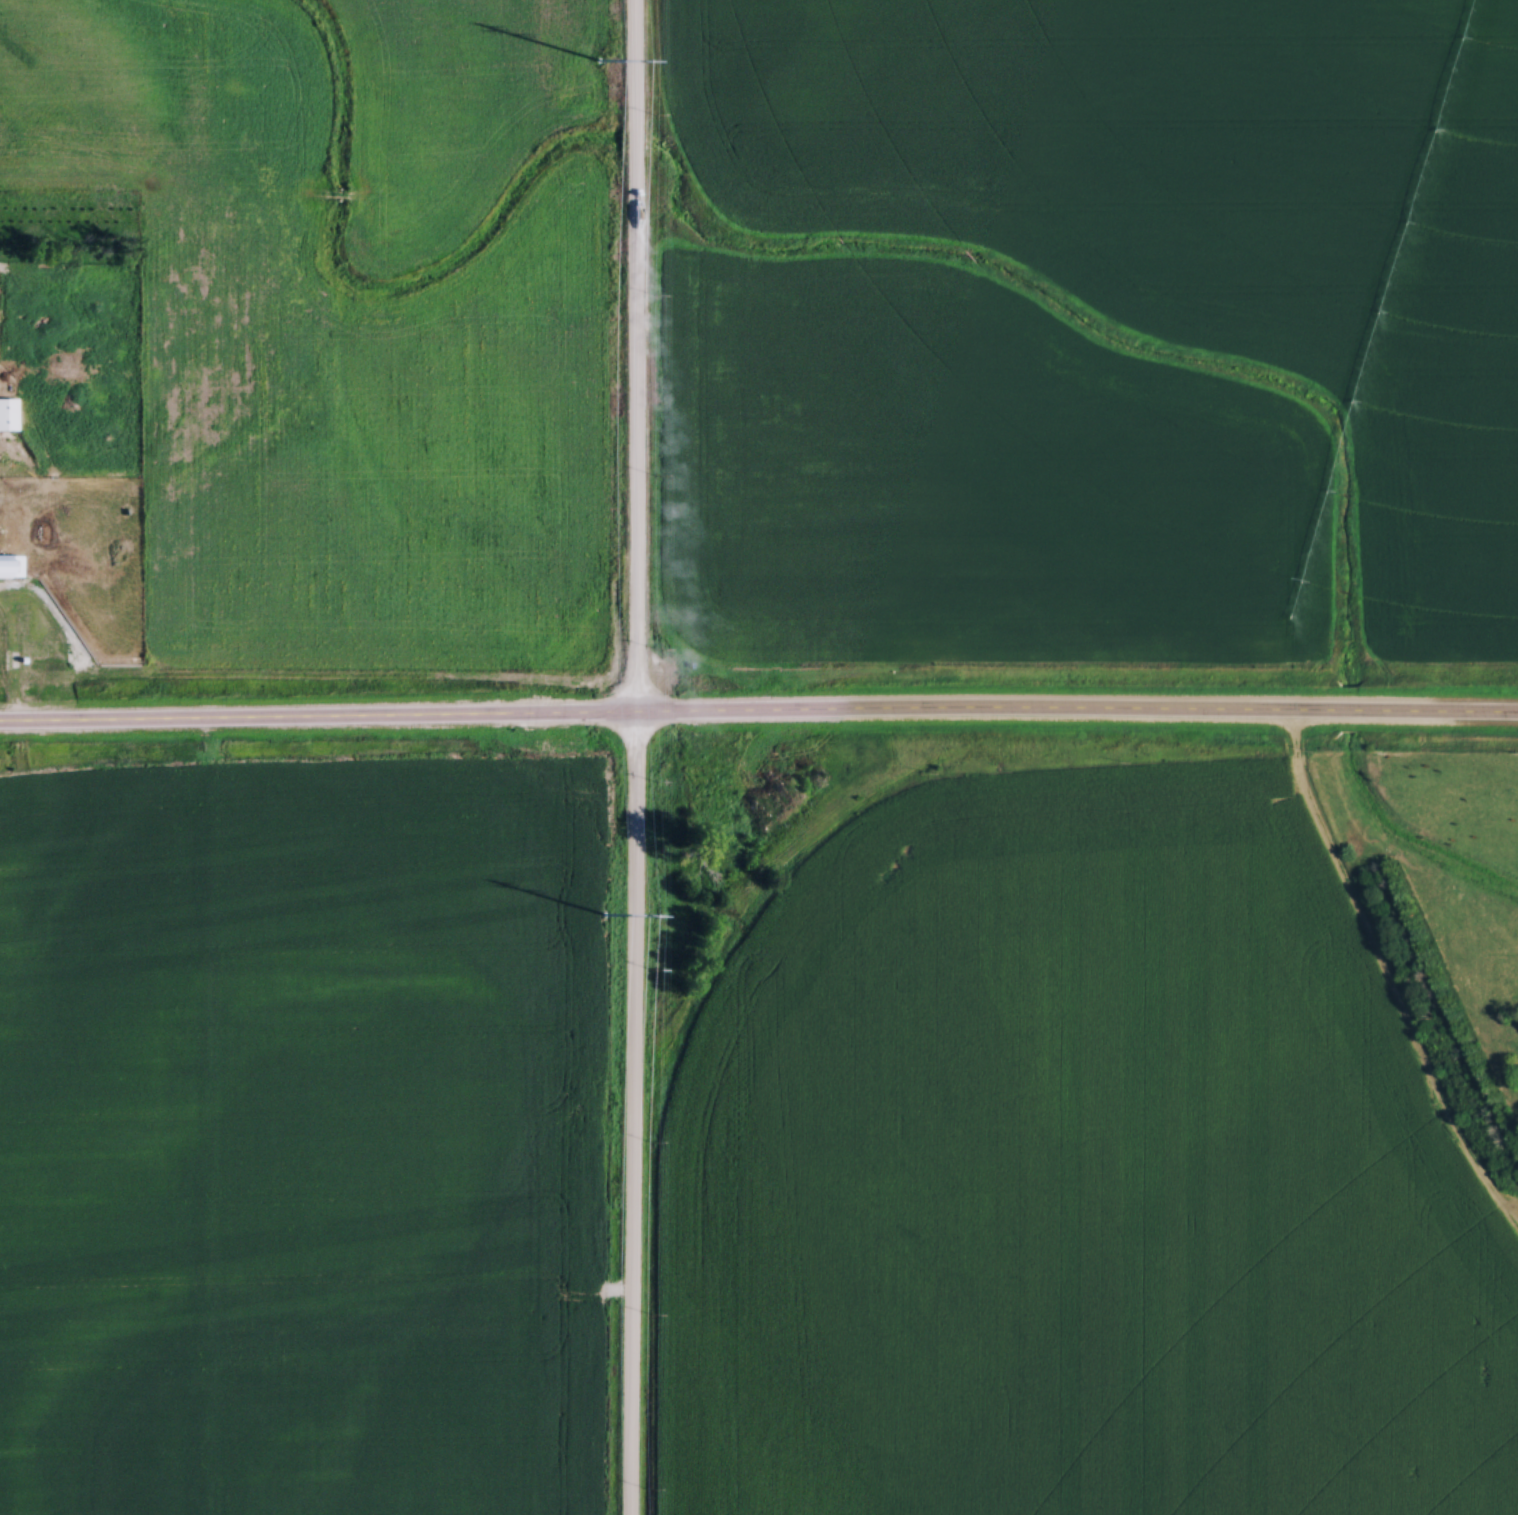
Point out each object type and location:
power tower: (599, 59)
building: (6, 414)
building: (2, 567)
road: (758, 719)
road: (636, 757)
road: (795, 875)
power tower: (603, 913)
road: (1394, 988)

